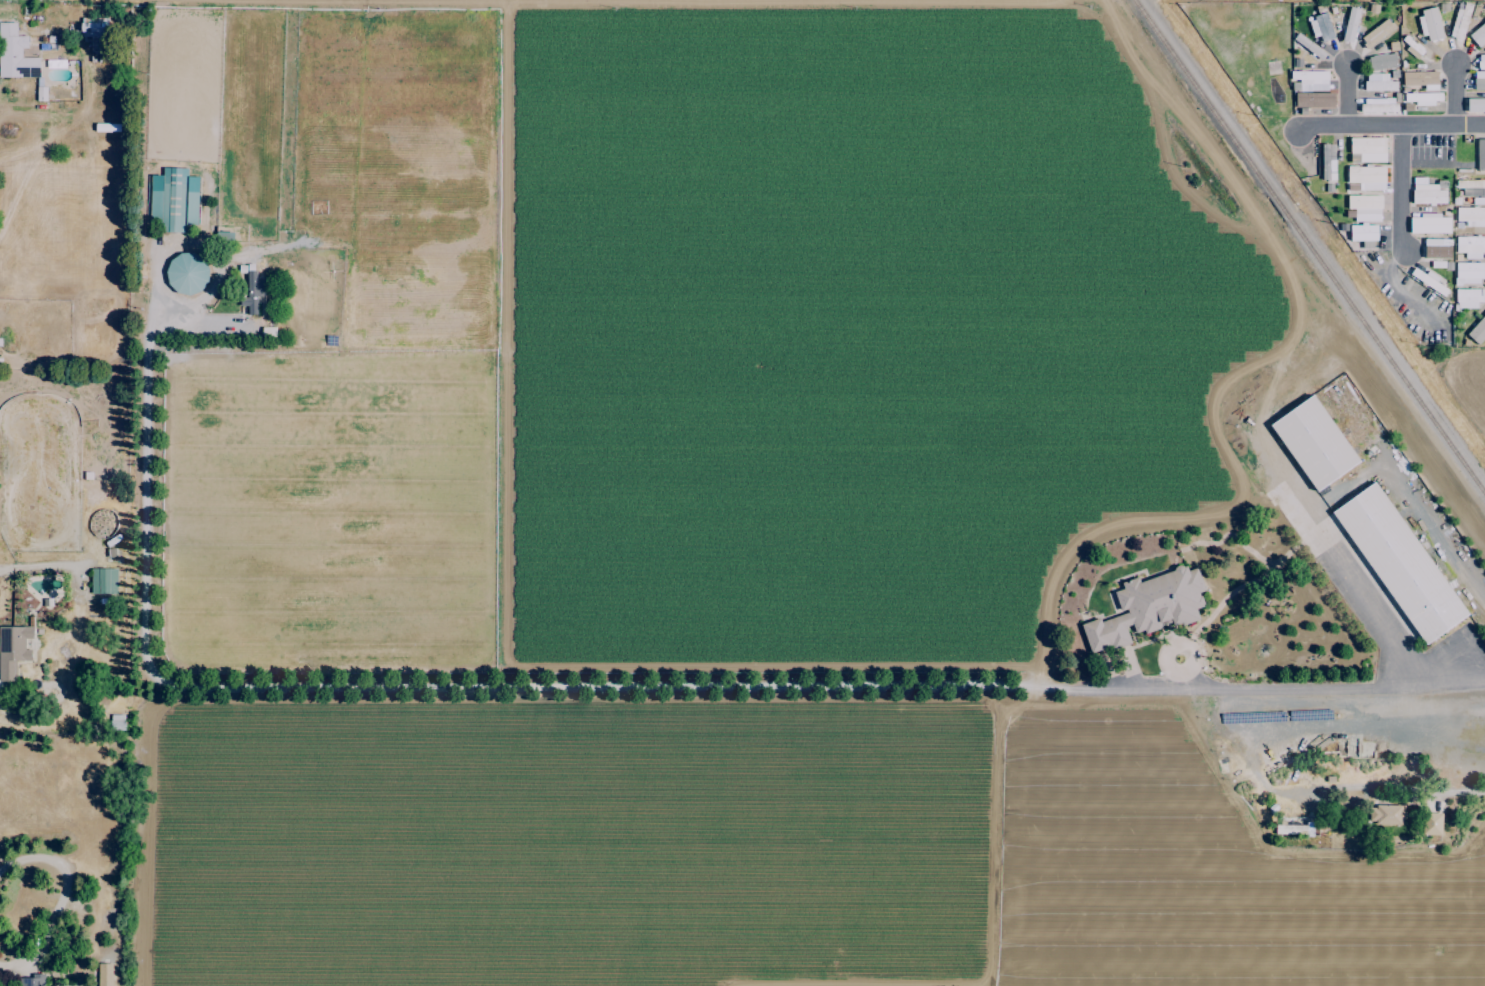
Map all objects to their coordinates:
building: (1350, 24)
building: (1430, 24)
building: (1321, 28)
building: (94, 33)
building: (1376, 33)
building: (1478, 35)
building: (1412, 47)
building: (15, 54)
building: (1481, 61)
building: (1381, 62)
building: (1419, 78)
building: (1311, 79)
building: (1479, 80)
building: (1378, 82)
road: (1348, 96)
road: (1457, 96)
building: (1423, 98)
building: (1313, 100)
building: (1475, 105)
building: (1378, 106)
road: (1392, 128)
building: (1367, 150)
building: (1480, 154)
building: (1327, 162)
building: (1366, 177)
building: (1471, 187)
road: (1402, 191)
building: (1426, 192)
building: (173, 200)
building: (1365, 207)
building: (1471, 216)
building: (1429, 224)
building: (1363, 235)
railway: (1311, 244)
building: (1470, 246)
building: (1437, 248)
building: (1468, 273)
building: (186, 274)
building: (252, 293)
building: (1467, 299)
building: (1477, 331)
building: (1314, 443)
building: (1399, 563)
road: (51, 565)
building: (103, 581)
building: (1147, 608)
road: (1375, 613)
building: (12, 650)
road: (603, 688)
road: (1399, 787)
building: (1384, 815)
building: (1431, 824)
building: (1302, 830)
road: (60, 898)
building: (104, 974)
building: (31, 980)

